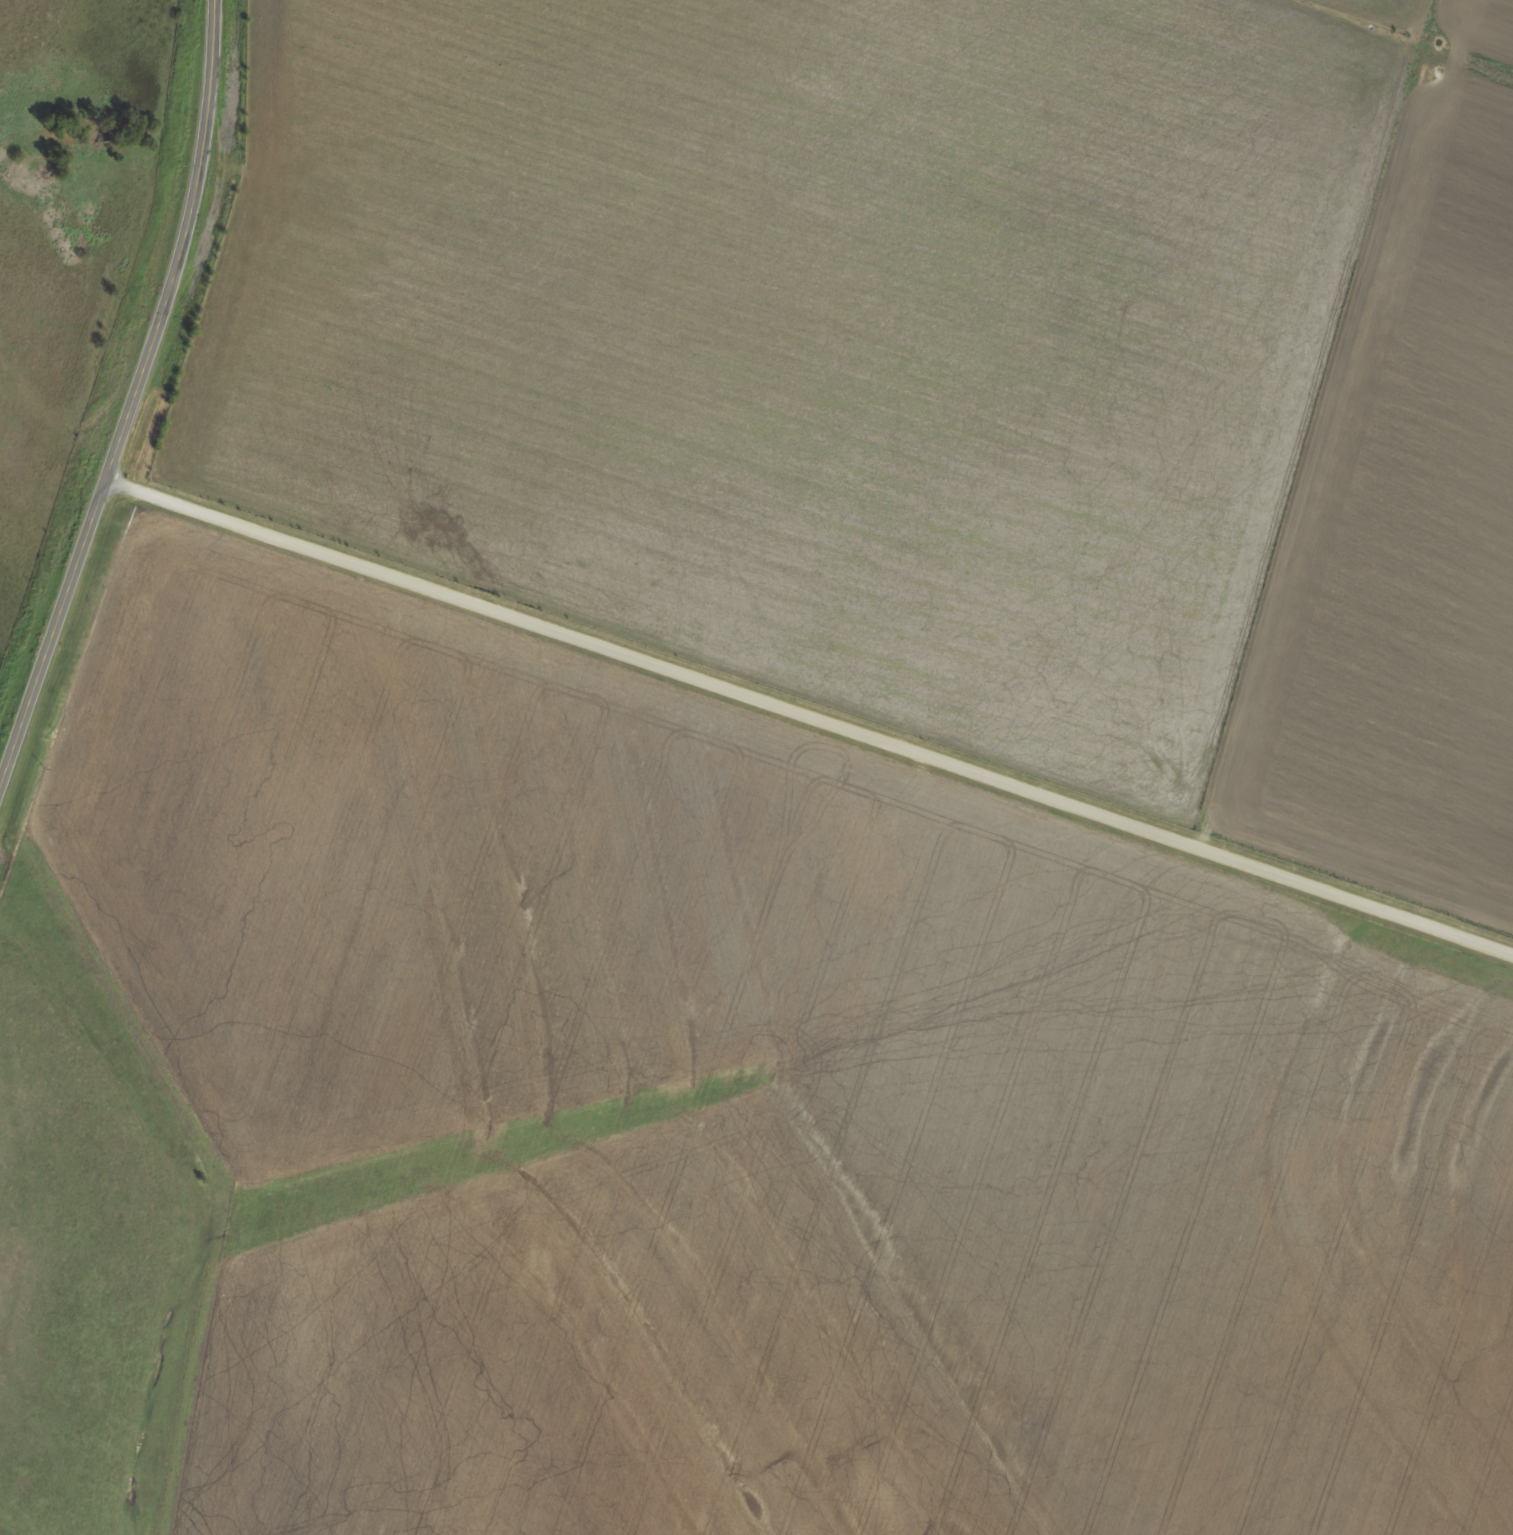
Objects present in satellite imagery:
road: (132, 402)
road: (210, 528)
road: (913, 763)

